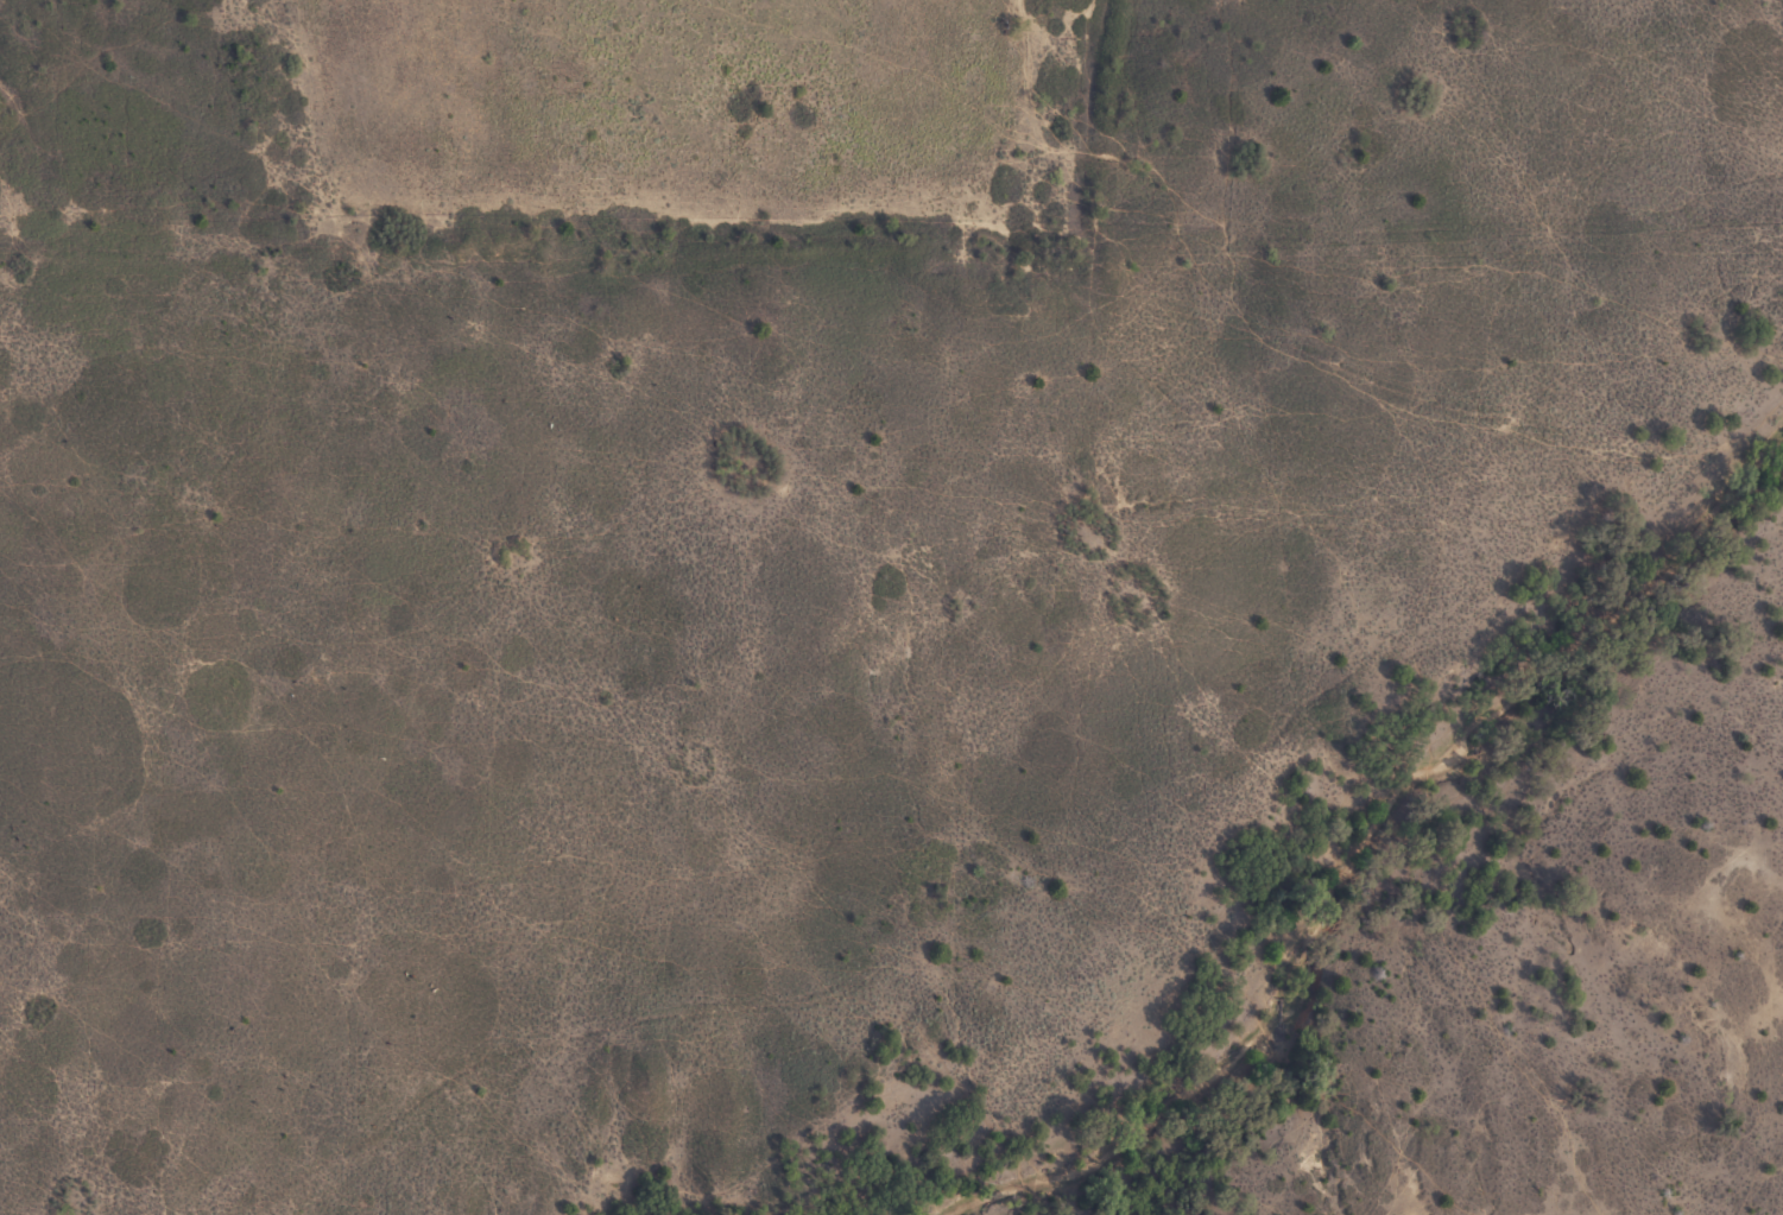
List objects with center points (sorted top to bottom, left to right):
crop: (891, 607)

